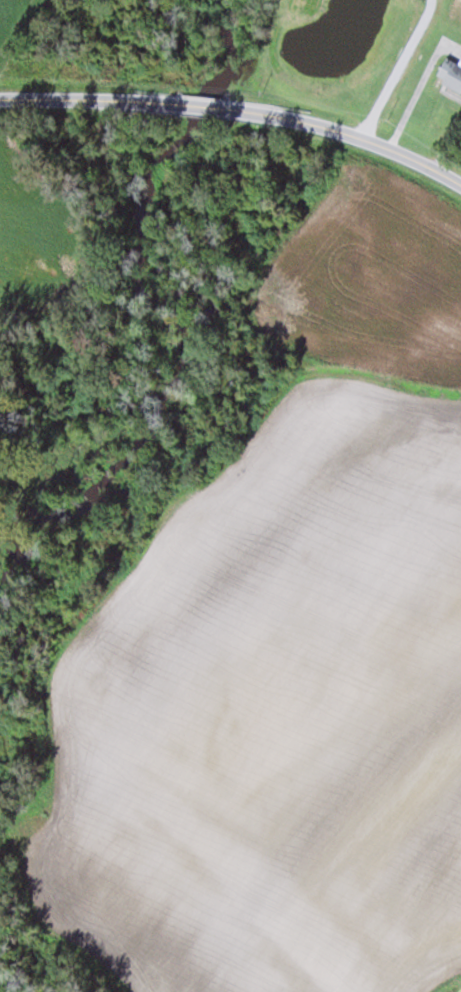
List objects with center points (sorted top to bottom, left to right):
building: (415, 21)
building: (405, 63)
building: (449, 74)
road: (237, 110)

